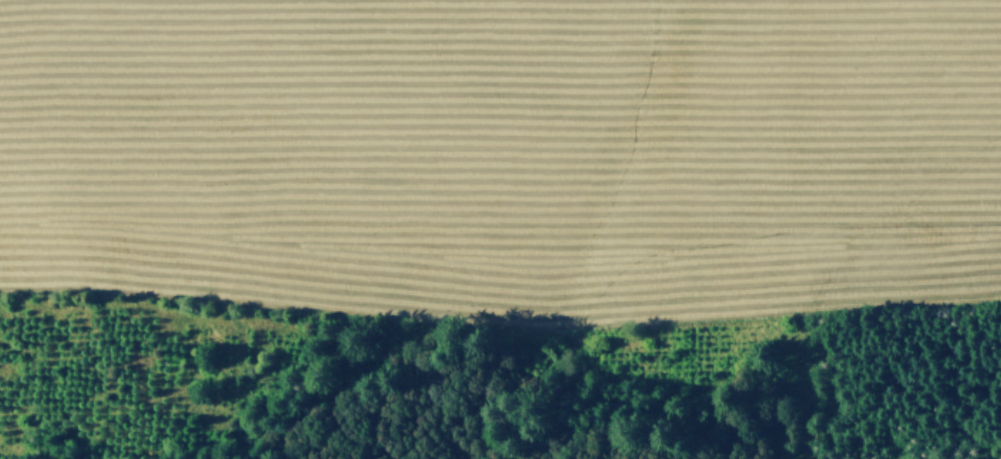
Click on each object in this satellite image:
crop: (541, 177)

